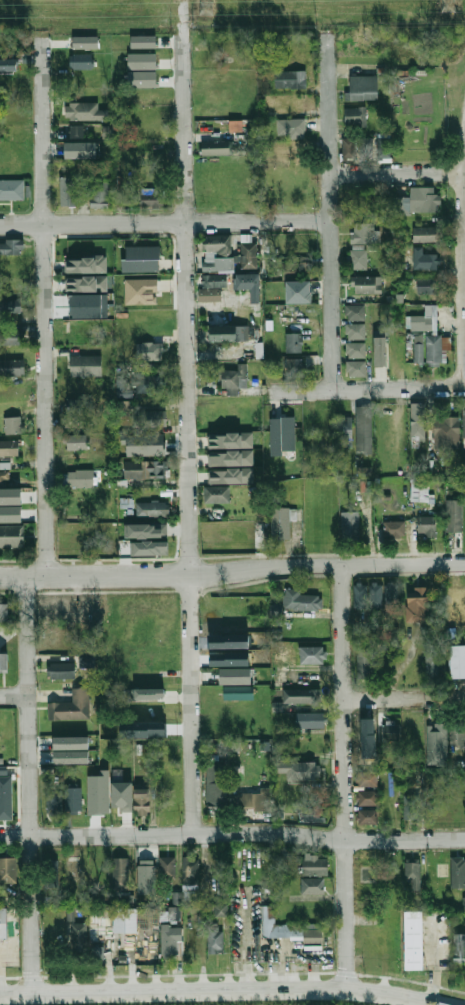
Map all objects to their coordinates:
power tower: (448, 3)
power tower: (205, 6)
building: (87, 41)
building: (143, 41)
building: (82, 59)
building: (141, 60)
building: (9, 63)
building: (142, 78)
building: (295, 80)
building: (364, 88)
building: (291, 103)
building: (84, 109)
building: (353, 116)
building: (291, 127)
building: (76, 131)
building: (215, 147)
building: (365, 147)
building: (83, 148)
building: (348, 148)
building: (382, 149)
road: (397, 172)
building: (12, 189)
building: (67, 190)
building: (99, 194)
road: (330, 195)
building: (423, 199)
building: (151, 200)
building: (400, 204)
road: (165, 225)
building: (363, 233)
building: (426, 234)
building: (11, 246)
building: (227, 252)
building: (141, 258)
building: (358, 259)
building: (425, 259)
building: (295, 263)
building: (85, 264)
building: (214, 280)
building: (86, 283)
building: (248, 284)
building: (366, 284)
building: (426, 285)
road: (43, 287)
building: (140, 291)
building: (297, 291)
building: (209, 294)
building: (88, 305)
building: (9, 306)
building: (354, 312)
building: (424, 319)
building: (354, 331)
building: (228, 333)
building: (8, 335)
building: (292, 342)
building: (355, 349)
building: (418, 349)
building: (435, 349)
building: (149, 351)
building: (379, 351)
building: (85, 365)
building: (293, 366)
building: (12, 367)
building: (356, 368)
building: (234, 379)
building: (148, 383)
road: (369, 389)
building: (79, 404)
building: (123, 408)
road: (188, 416)
building: (152, 418)
building: (417, 420)
building: (463, 423)
building: (12, 424)
building: (363, 428)
building: (343, 431)
building: (445, 431)
building: (281, 434)
building: (229, 440)
building: (76, 441)
building: (8, 447)
building: (229, 458)
building: (145, 469)
building: (230, 475)
building: (4, 478)
building: (80, 478)
building: (420, 490)
building: (216, 493)
building: (10, 496)
building: (151, 508)
building: (10, 513)
building: (453, 515)
building: (281, 522)
building: (349, 524)
building: (426, 525)
building: (394, 529)
building: (145, 530)
building: (218, 531)
building: (12, 535)
building: (149, 547)
road: (232, 569)
building: (390, 594)
building: (366, 595)
building: (300, 600)
building: (416, 604)
building: (58, 607)
building: (275, 609)
building: (4, 611)
building: (220, 649)
building: (281, 652)
building: (312, 655)
building: (365, 658)
building: (457, 659)
building: (86, 661)
building: (3, 662)
building: (246, 662)
building: (432, 666)
building: (60, 670)
building: (160, 685)
building: (238, 692)
building: (147, 694)
road: (13, 696)
building: (301, 696)
road: (405, 698)
building: (161, 703)
building: (71, 705)
building: (308, 719)
building: (390, 731)
building: (457, 736)
building: (70, 742)
building: (436, 744)
building: (70, 756)
building: (309, 766)
building: (3, 769)
road: (345, 779)
building: (367, 779)
road: (29, 784)
building: (215, 787)
building: (282, 796)
building: (5, 797)
building: (73, 797)
building: (367, 798)
building: (141, 801)
building: (253, 801)
building: (53, 802)
building: (115, 803)
building: (411, 807)
building: (440, 807)
building: (314, 815)
building: (367, 816)
road: (232, 834)
building: (314, 865)
building: (73, 867)
building: (167, 867)
building: (97, 868)
building: (8, 870)
building: (50, 871)
building: (458, 872)
building: (120, 873)
building: (190, 873)
building: (412, 873)
building: (145, 876)
building: (312, 886)
building: (176, 898)
building: (463, 902)
building: (220, 910)
building: (435, 917)
building: (124, 921)
building: (3, 923)
building: (290, 932)
building: (201, 938)
building: (78, 939)
building: (171, 939)
building: (413, 941)
road: (240, 943)
building: (459, 947)
building: (97, 952)
road: (132, 957)
road: (108, 972)
road: (213, 993)

